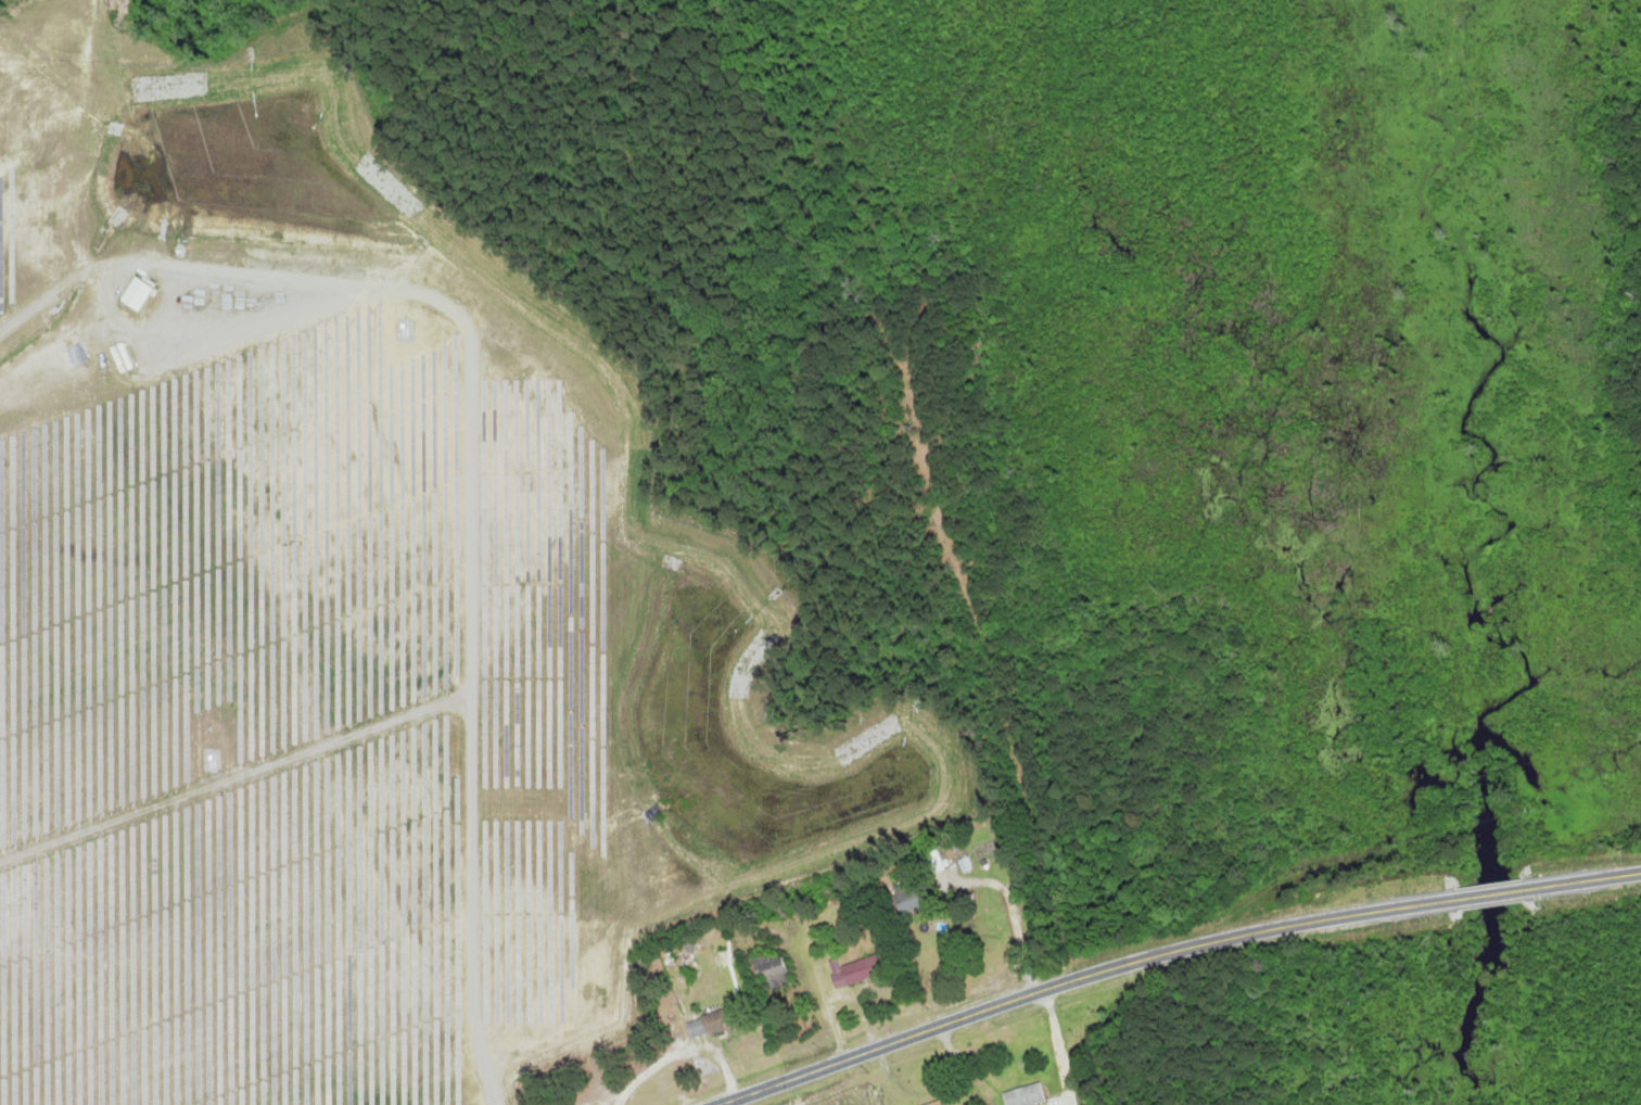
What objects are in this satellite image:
road: (1585, 879)
road: (1492, 894)
building: (909, 898)
building: (768, 971)
building: (858, 971)
road: (1080, 978)
building: (712, 1023)
building: (1022, 1095)
building: (932, 1103)

